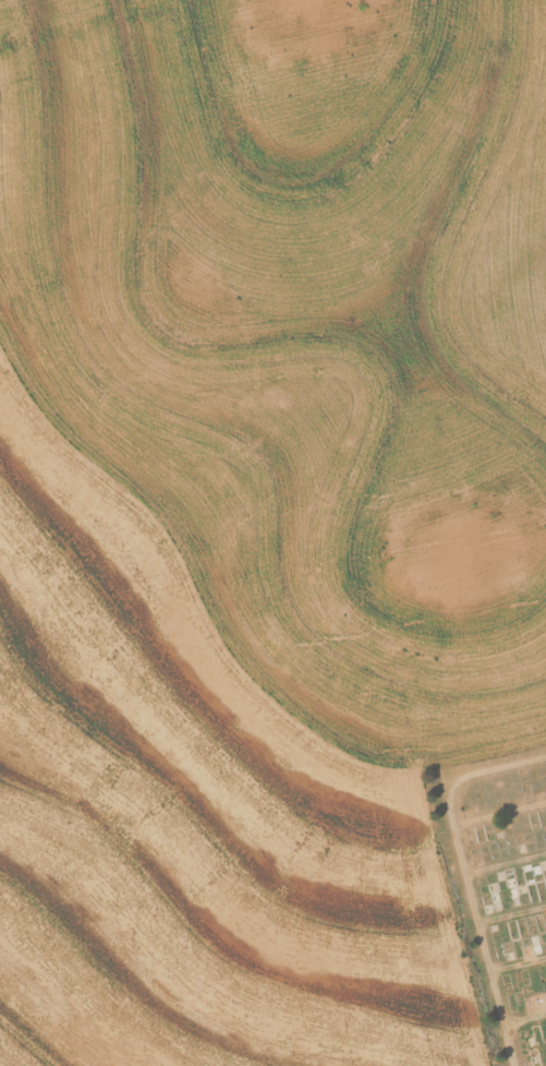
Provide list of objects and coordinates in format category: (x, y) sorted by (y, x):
road: (447, 870)
building: (515, 886)
park: (498, 890)
road: (522, 1028)
building: (537, 1034)
road: (500, 1051)

